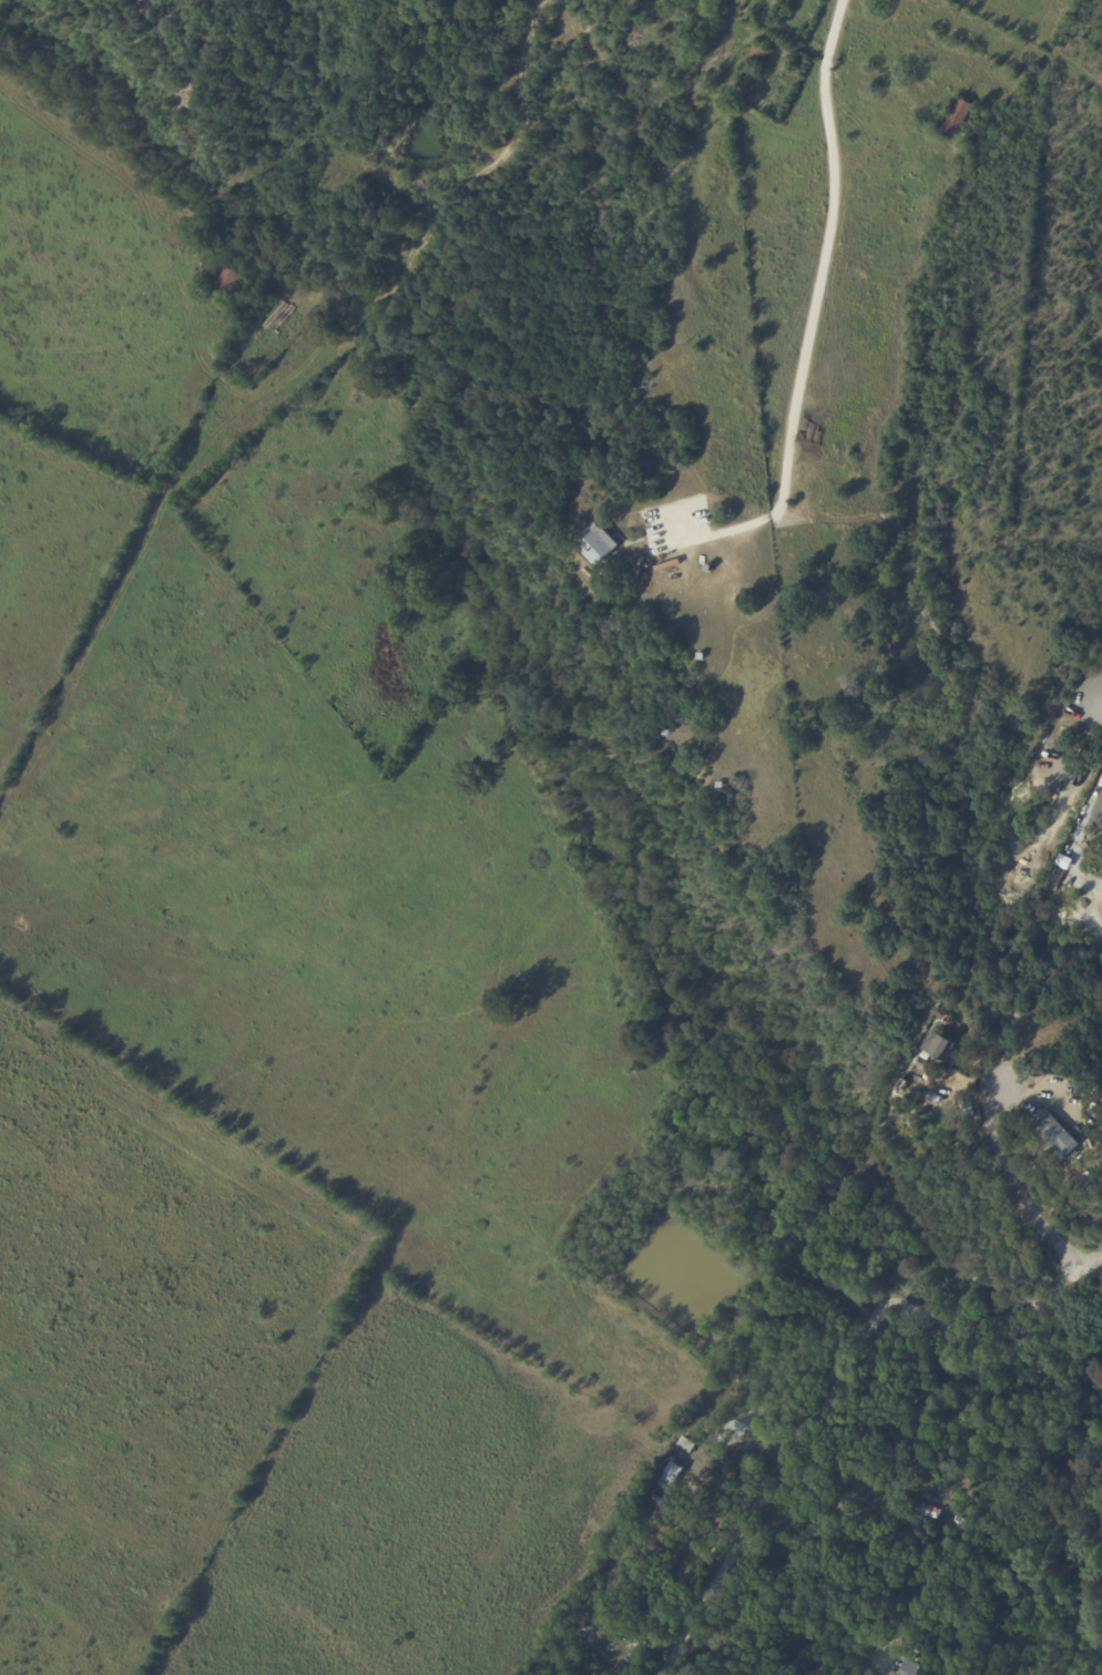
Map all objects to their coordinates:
building: (761, 57)
building: (957, 119)
building: (227, 283)
road: (817, 294)
building: (596, 544)
building: (708, 566)
building: (1101, 635)
building: (701, 656)
park: (455, 699)
road: (1101, 702)
building: (667, 732)
building: (721, 785)
building: (1098, 814)
building: (1057, 876)
building: (940, 1045)
building: (926, 1055)
building: (924, 1063)
building: (1058, 1136)
building: (1094, 1162)
road: (1020, 1179)
road: (838, 1278)
road: (994, 1306)
road: (826, 1386)
road: (881, 1551)
road: (713, 1571)

